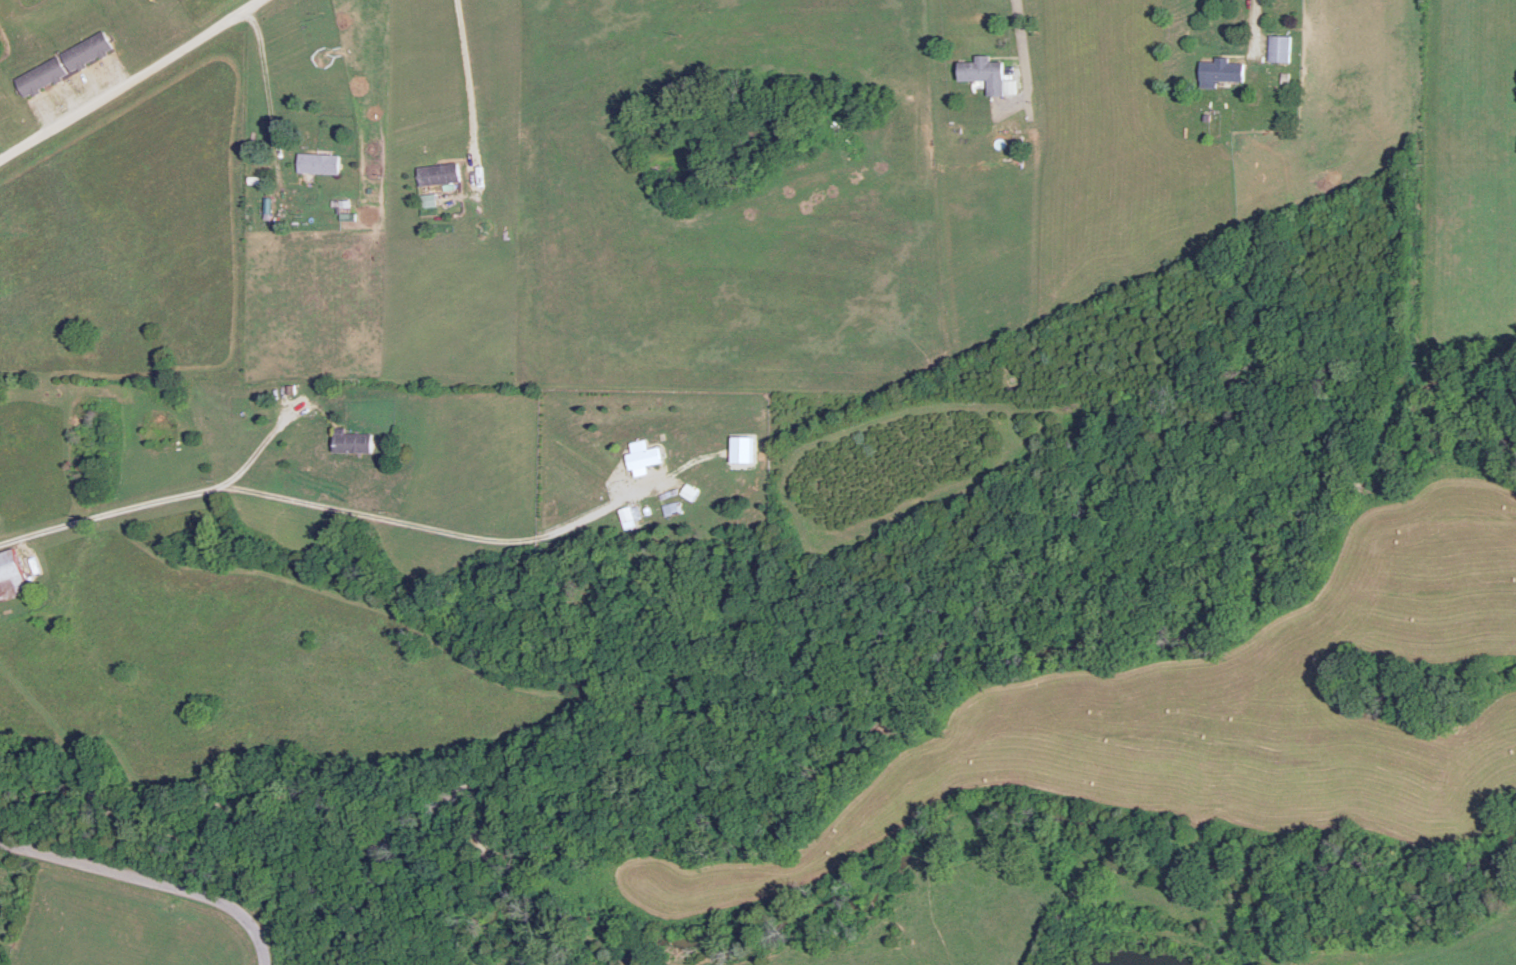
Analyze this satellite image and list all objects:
building: (1280, 46)
building: (88, 50)
building: (1220, 70)
building: (984, 72)
building: (43, 75)
road: (135, 80)
building: (852, 146)
building: (319, 162)
building: (438, 173)
building: (427, 199)
building: (371, 264)
building: (351, 439)
building: (646, 456)
building: (628, 512)
road: (56, 525)
building: (11, 574)
road: (151, 879)

